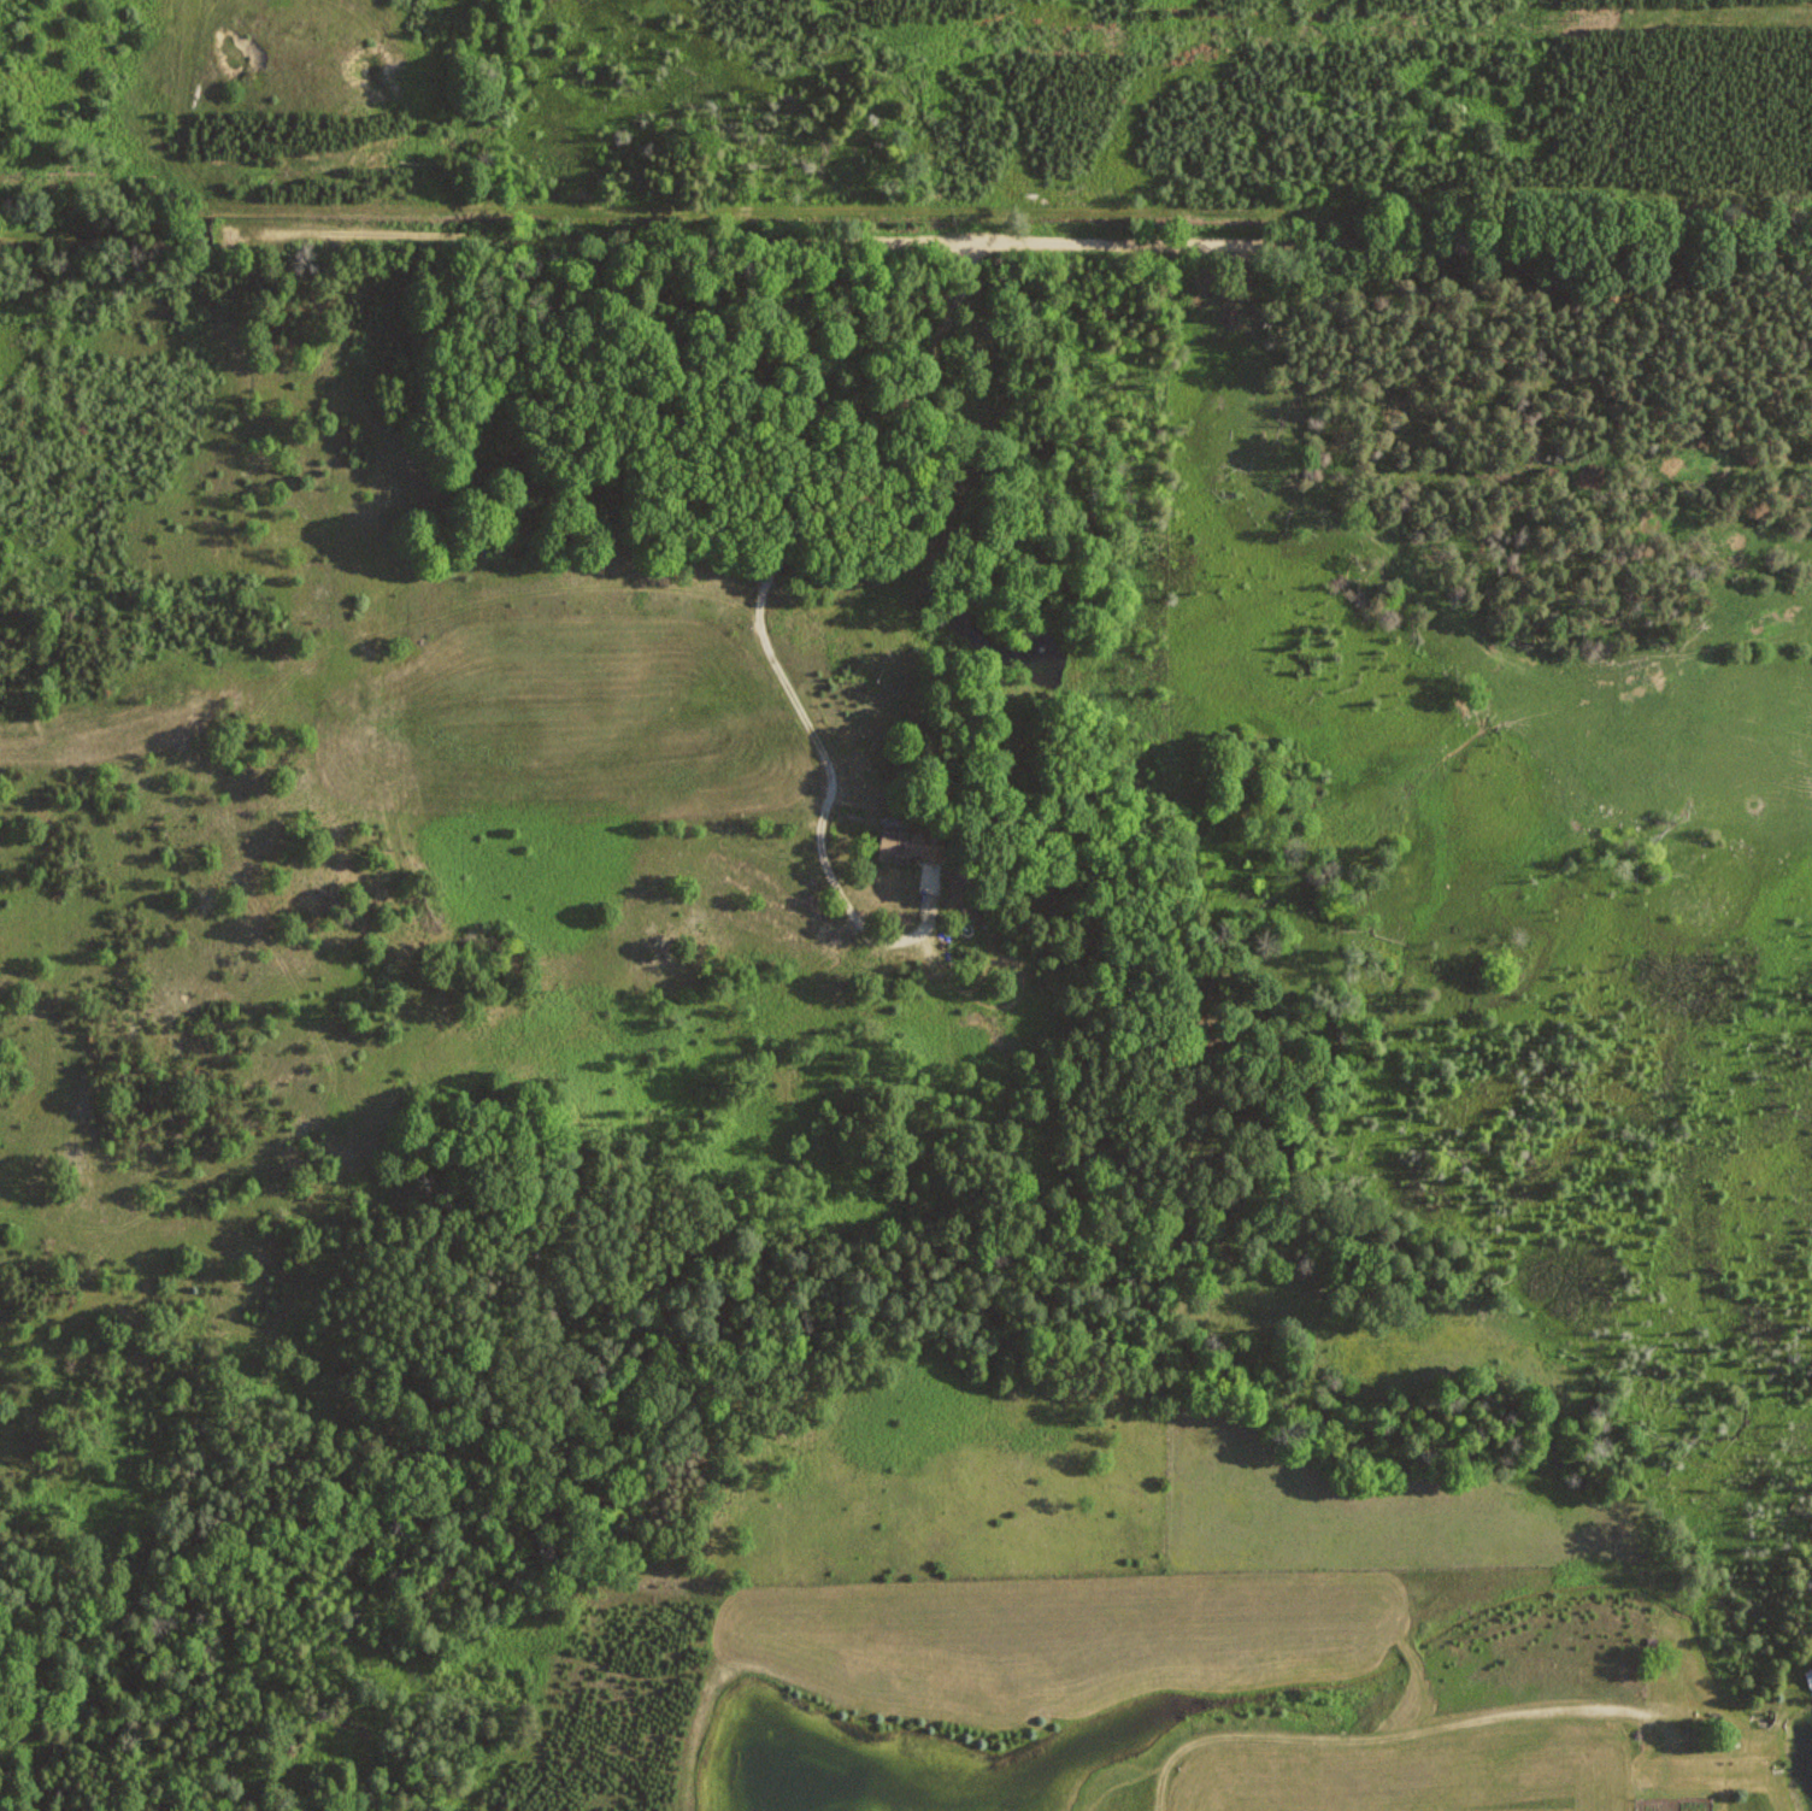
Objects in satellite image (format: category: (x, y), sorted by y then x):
road: (1220, 236)
building: (911, 843)
building: (1810, 1676)

